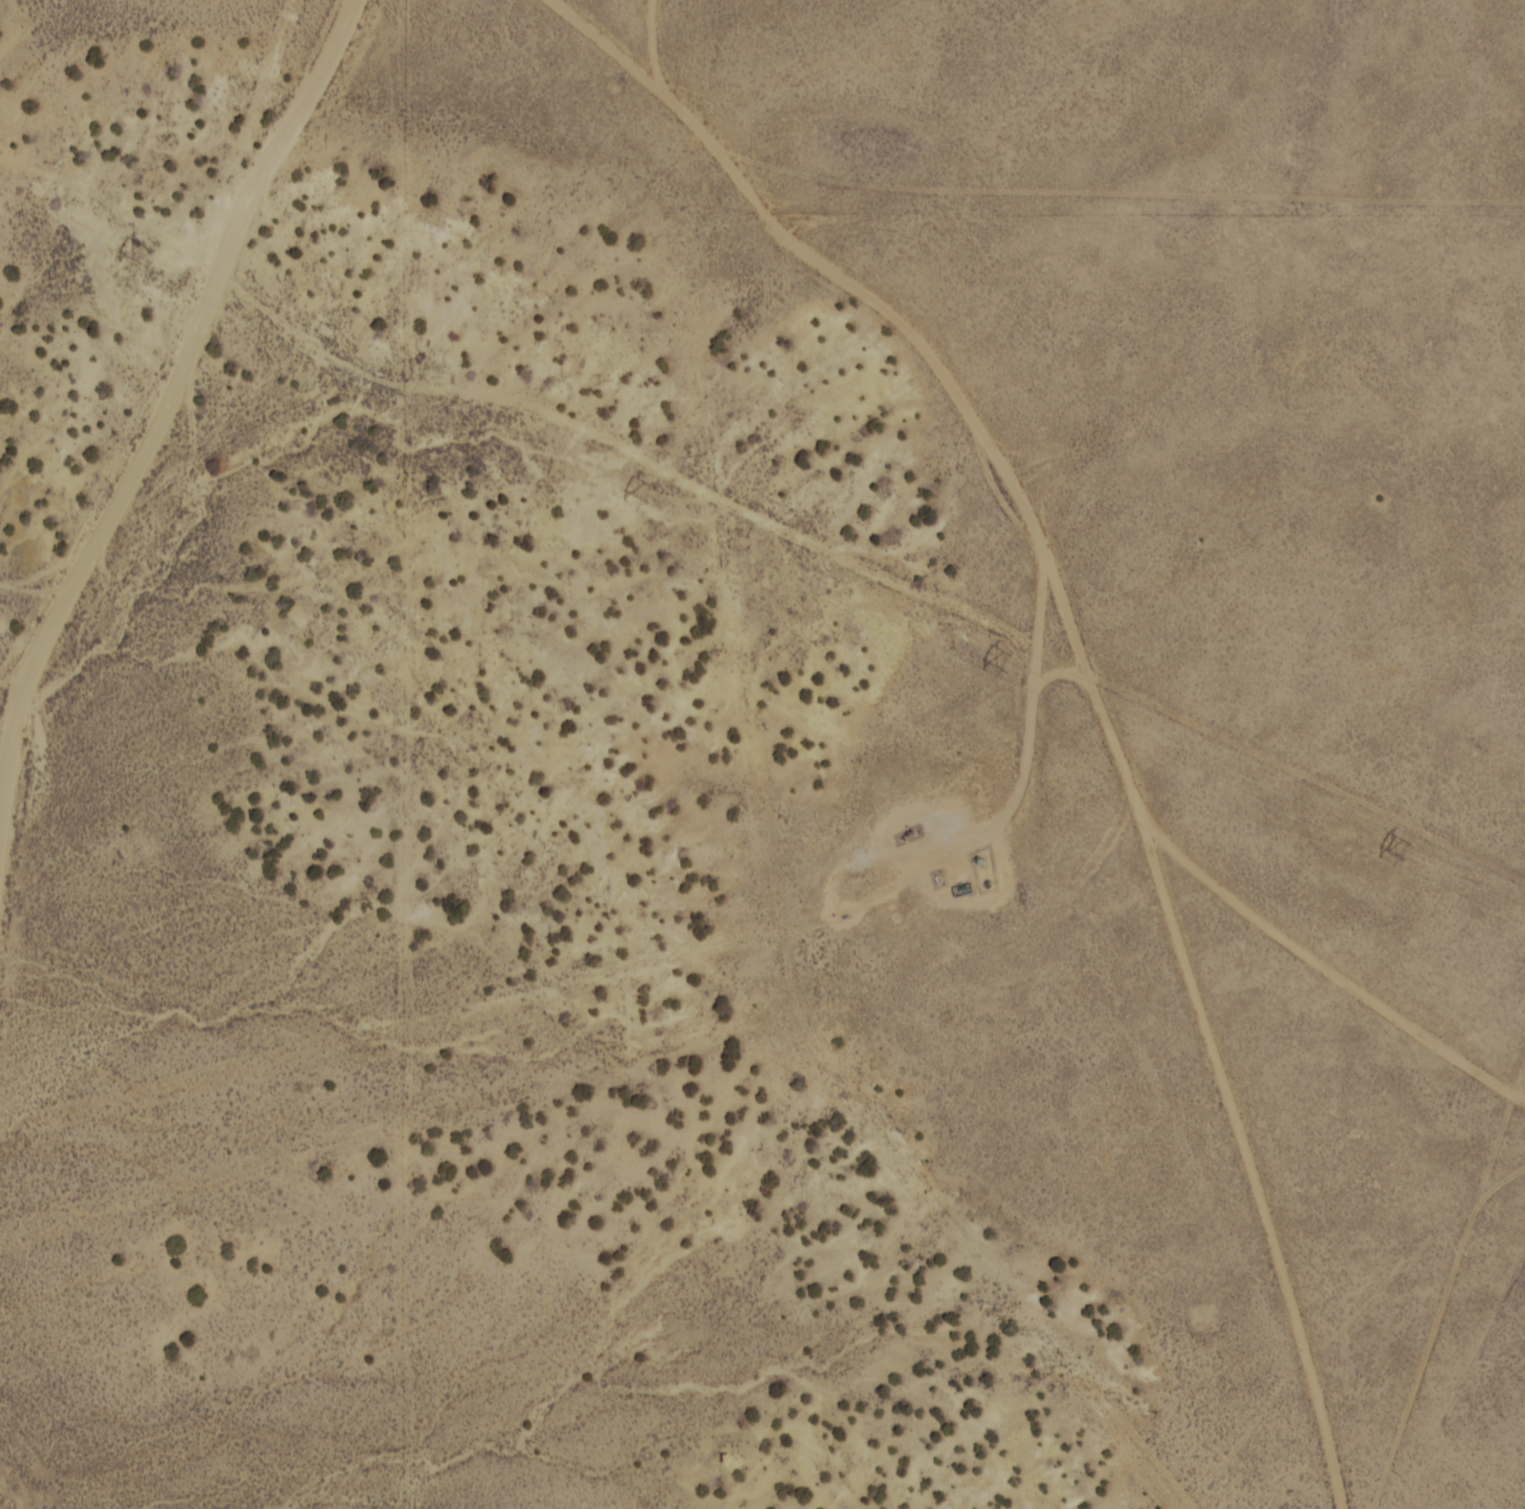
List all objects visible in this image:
road: (1120, 198)
power tower: (137, 256)
road: (167, 411)
power tower: (649, 499)
power tower: (1006, 666)
road: (1088, 669)
power tower: (1404, 854)
road: (1452, 1283)

